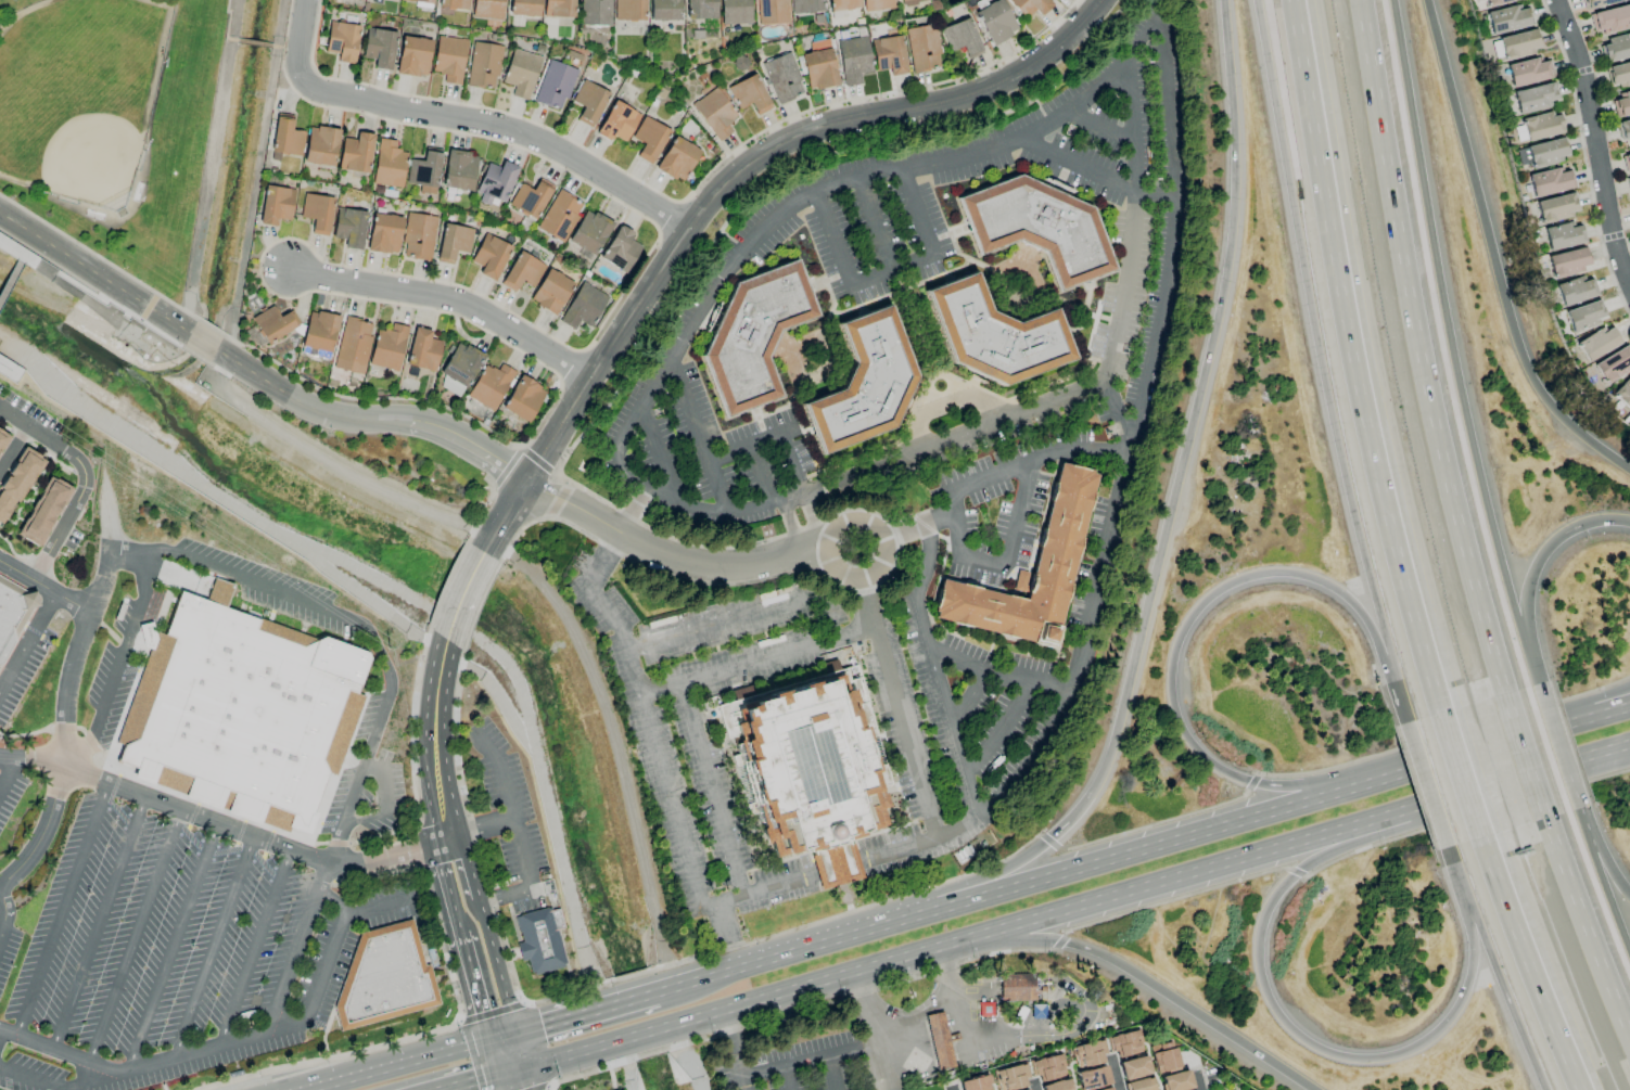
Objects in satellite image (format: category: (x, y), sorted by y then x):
park: (14, 0)
building: (360, 0)
building: (420, 1)
building: (910, 1)
building: (1494, 1)
building: (1597, 3)
building: (454, 4)
building: (842, 4)
building: (876, 4)
building: (805, 5)
building: (1029, 7)
building: (524, 8)
building: (558, 8)
building: (486, 9)
building: (700, 9)
building: (628, 10)
building: (664, 10)
building: (772, 11)
building: (594, 12)
building: (735, 12)
building: (1507, 18)
building: (1610, 20)
building: (994, 21)
road: (227, 25)
building: (960, 38)
building: (341, 41)
road: (308, 42)
building: (1518, 43)
road: (255, 44)
building: (379, 48)
building: (921, 48)
building: (1616, 48)
road: (290, 50)
building: (888, 54)
building: (412, 56)
building: (448, 59)
building: (852, 60)
building: (483, 65)
building: (818, 68)
building: (1528, 70)
building: (520, 73)
building: (1618, 75)
building: (782, 78)
building: (553, 85)
park: (79, 94)
building: (749, 94)
building: (1533, 98)
building: (588, 102)
building: (1621, 104)
building: (714, 113)
building: (616, 121)
park: (115, 124)
building: (1542, 126)
road: (504, 127)
road: (1100, 127)
building: (1623, 130)
building: (285, 137)
building: (649, 139)
road: (1594, 142)
building: (320, 145)
building: (1546, 152)
building: (355, 153)
building: (676, 158)
road: (753, 159)
building: (1626, 162)
building: (389, 164)
road: (1079, 165)
building: (458, 170)
road: (897, 171)
building: (423, 172)
building: (1550, 181)
building: (495, 182)
building: (1628, 183)
building: (530, 198)
building: (276, 205)
building: (1556, 207)
building: (317, 213)
building: (559, 216)
road: (1134, 222)
road: (874, 225)
building: (348, 227)
building: (1040, 228)
building: (589, 231)
building: (384, 233)
building: (1564, 235)
building: (418, 236)
building: (453, 242)
building: (620, 249)
building: (489, 256)
road: (1492, 257)
road: (20, 259)
building: (1568, 261)
building: (521, 271)
road: (887, 272)
road: (94, 274)
road: (9, 279)
building: (1576, 290)
building: (550, 291)
road: (77, 295)
road: (448, 299)
building: (583, 306)
building: (1584, 316)
building: (273, 323)
building: (318, 334)
building: (995, 335)
building: (754, 336)
building: (1597, 343)
road: (1452, 344)
road: (203, 345)
building: (353, 345)
building: (387, 347)
road: (1421, 348)
building: (422, 350)
road: (1357, 358)
building: (461, 363)
road: (1321, 363)
building: (1614, 364)
building: (9, 370)
road: (15, 372)
building: (864, 385)
building: (450, 386)
building: (489, 386)
building: (1623, 393)
building: (523, 399)
road: (944, 405)
road: (373, 418)
road: (625, 427)
road: (787, 431)
road: (697, 435)
building: (2, 436)
road: (746, 448)
road: (14, 450)
road: (659, 452)
road: (1034, 460)
road: (794, 463)
road: (757, 476)
road: (81, 479)
building: (16, 482)
road: (576, 508)
building: (42, 511)
road: (1169, 513)
road: (1017, 515)
road: (506, 518)
road: (812, 522)
building: (1062, 525)
road: (916, 526)
road: (953, 526)
road: (793, 527)
road: (875, 530)
road: (981, 564)
road: (723, 566)
road: (1533, 569)
road: (46, 586)
road: (543, 588)
road: (460, 598)
building: (12, 617)
road: (739, 617)
road: (336, 618)
road: (27, 642)
power tower: (387, 642)
road: (1175, 643)
road: (757, 661)
road: (117, 665)
road: (931, 670)
road: (994, 674)
road: (968, 701)
road: (1601, 706)
road: (896, 708)
building: (235, 711)
road: (1601, 715)
road: (430, 731)
road: (1002, 733)
road: (1557, 746)
road: (1608, 751)
road: (1524, 756)
road: (1608, 756)
road: (31, 762)
building: (803, 772)
road: (7, 773)
road: (1460, 774)
road: (1426, 784)
parking lot: (18, 791)
road: (710, 791)
road: (384, 803)
road: (510, 822)
parking lot: (512, 825)
building: (552, 831)
road: (477, 832)
road: (44, 834)
road: (252, 835)
road: (1145, 847)
road: (1264, 851)
road: (1602, 855)
road: (1603, 879)
flagpole: (722, 890)
road: (764, 890)
flagpole: (714, 892)
fountain: (846, 897)
road: (331, 900)
road: (62, 907)
road: (373, 908)
road: (4, 911)
road: (98, 921)
road: (481, 924)
road: (1586, 927)
road: (457, 931)
road: (133, 934)
road: (728, 937)
building: (538, 942)
road: (170, 947)
road: (255, 947)
road: (212, 948)
road: (1530, 964)
road: (324, 966)
road: (1495, 967)
road: (1137, 978)
building: (384, 980)
road: (687, 983)
road: (802, 986)
road: (1067, 986)
building: (1016, 987)
road: (634, 998)
road: (960, 1015)
road: (917, 1017)
road: (563, 1018)
road: (286, 1024)
road: (870, 1030)
road: (642, 1031)
traffic signals: (514, 1033)
road: (2, 1035)
road: (324, 1035)
road: (500, 1037)
road: (399, 1040)
building: (939, 1041)
gas station: (939, 1041)
building: (1125, 1043)
road: (1306, 1044)
road: (62, 1050)
road: (730, 1050)
road: (196, 1051)
road: (512, 1051)
road: (565, 1053)
building: (1088, 1053)
road: (498, 1055)
building: (1163, 1057)
road: (805, 1061)
road: (395, 1065)
road: (1151, 1065)
building: (1048, 1067)
building: (1133, 1067)
traffic signals: (510, 1069)
road: (830, 1073)
road: (1113, 1074)
road: (1072, 1075)
building: (1011, 1077)
road: (784, 1078)
building: (1092, 1078)
road: (63, 1079)
road: (473, 1079)
road: (512, 1079)
road: (1228, 1080)
building: (1175, 1081)
road: (1199, 1082)
park: (1230, 1082)
building: (975, 1083)
building: (1141, 1085)
road: (957, 1086)
building: (1056, 1086)
road: (994, 1087)
road: (1033, 1087)
road: (951, 1089)
building: (1106, 1089)

